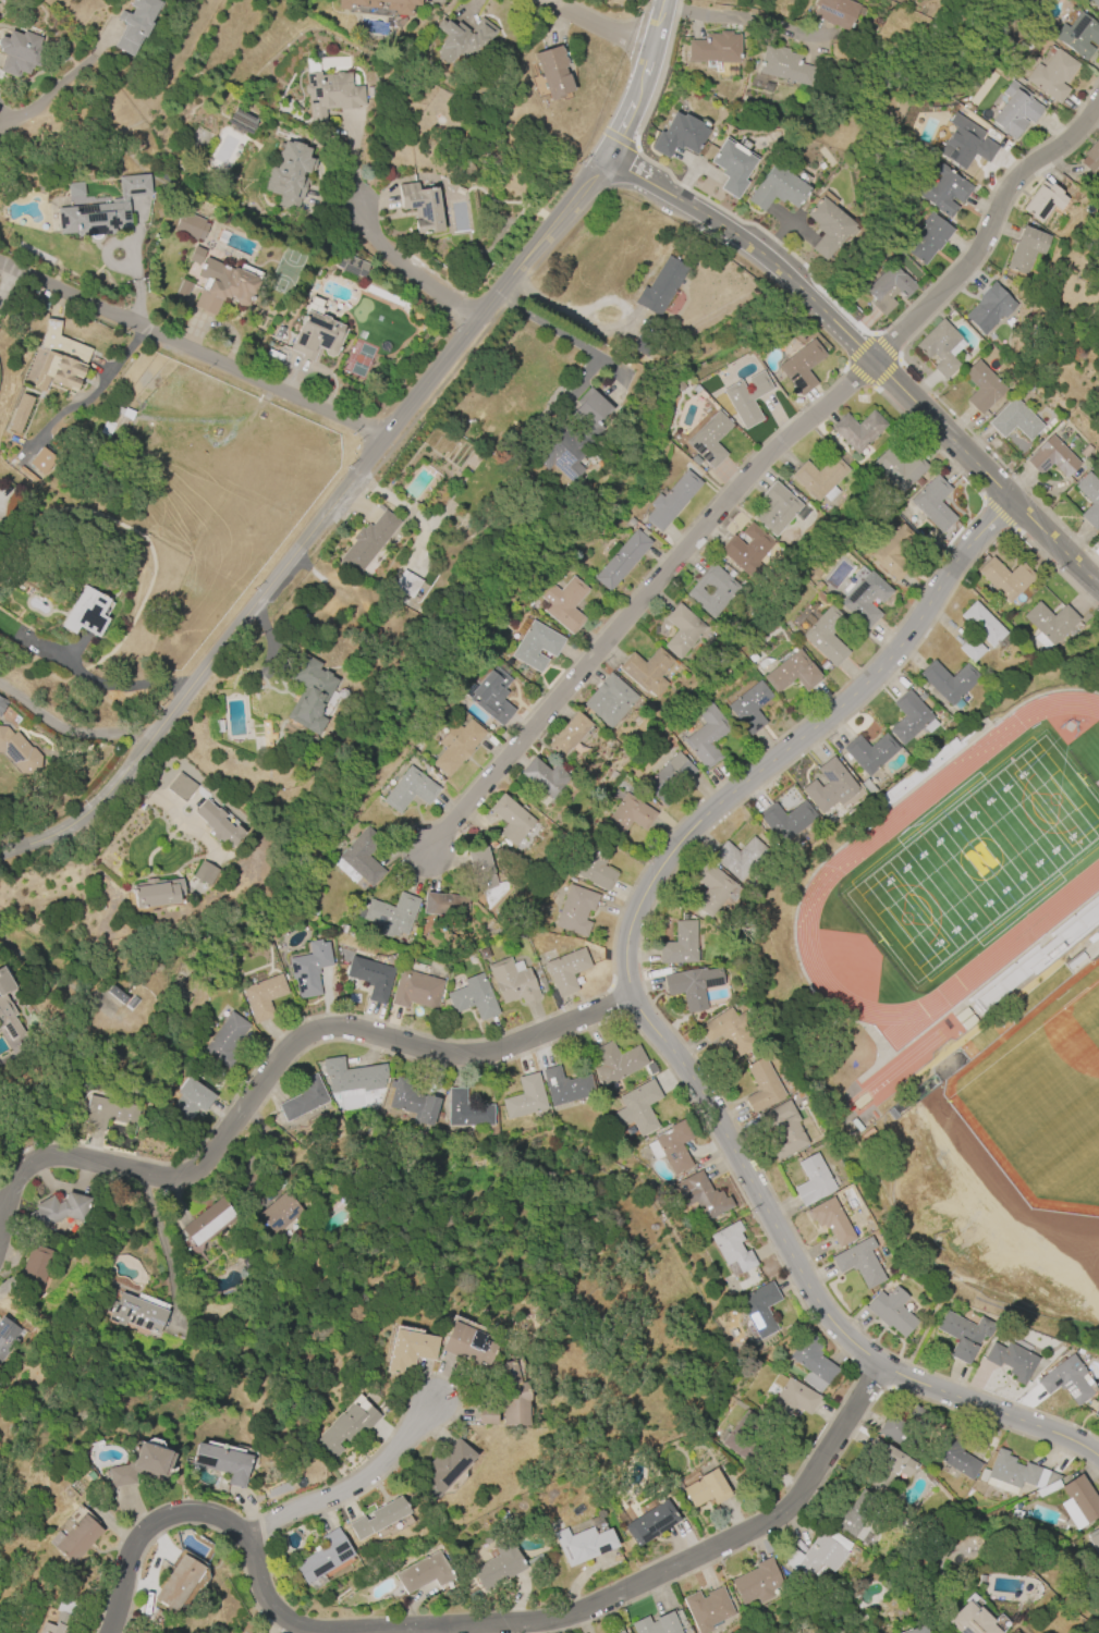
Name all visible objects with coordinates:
building: (1091, 2)
building: (398, 8)
building: (833, 11)
building: (1098, 16)
road: (744, 20)
road: (602, 23)
building: (135, 24)
building: (1079, 35)
building: (463, 38)
building: (715, 48)
building: (20, 51)
building: (784, 66)
road: (80, 67)
building: (552, 71)
road: (658, 72)
building: (1052, 75)
building: (369, 90)
building: (330, 94)
building: (1015, 110)
road: (20, 112)
building: (243, 119)
building: (679, 135)
building: (965, 144)
building: (1091, 156)
building: (732, 165)
building: (289, 174)
building: (777, 188)
building: (943, 191)
building: (1043, 200)
building: (422, 206)
building: (102, 210)
building: (191, 225)
building: (828, 228)
building: (928, 237)
road: (990, 237)
building: (1026, 249)
road: (106, 254)
road: (134, 260)
building: (351, 266)
road: (408, 268)
road: (8, 279)
building: (223, 285)
building: (660, 286)
building: (888, 288)
building: (182, 292)
building: (989, 308)
road: (573, 315)
building: (317, 336)
road: (571, 341)
road: (190, 347)
building: (939, 347)
road: (867, 354)
building: (801, 368)
building: (59, 371)
road: (583, 372)
building: (982, 386)
road: (93, 395)
building: (746, 398)
building: (20, 414)
building: (1014, 420)
building: (857, 430)
building: (573, 435)
building: (709, 439)
road: (367, 455)
building: (1051, 457)
building: (41, 459)
building: (900, 469)
building: (819, 477)
building: (1089, 498)
building: (672, 500)
building: (932, 503)
building: (776, 508)
building: (368, 541)
building: (747, 549)
building: (892, 552)
building: (623, 560)
building: (1005, 578)
building: (406, 585)
building: (712, 590)
road: (645, 593)
building: (865, 599)
building: (564, 604)
building: (85, 613)
building: (1050, 622)
building: (982, 624)
building: (683, 630)
building: (826, 636)
building: (536, 646)
building: (970, 649)
building: (647, 670)
building: (791, 673)
building: (948, 680)
road: (114, 685)
building: (307, 695)
building: (492, 695)
building: (609, 701)
building: (2, 704)
building: (748, 708)
building: (908, 717)
road: (68, 729)
building: (266, 734)
building: (569, 734)
building: (705, 735)
road: (799, 742)
building: (456, 746)
building: (19, 752)
building: (868, 752)
building: (544, 776)
building: (668, 777)
building: (180, 786)
building: (829, 786)
building: (866, 786)
building: (410, 789)
road: (163, 806)
building: (626, 815)
building: (511, 819)
building: (784, 820)
building: (217, 822)
building: (362, 856)
building: (738, 857)
park: (980, 863)
building: (596, 865)
track: (831, 871)
building: (205, 873)
building: (485, 875)
building: (713, 891)
building: (156, 893)
building: (445, 905)
building: (575, 910)
building: (392, 914)
building: (680, 945)
building: (483, 953)
building: (308, 969)
building: (565, 971)
building: (370, 977)
building: (512, 981)
building: (692, 985)
building: (415, 990)
building: (117, 994)
building: (262, 996)
building: (473, 998)
building: (7, 1007)
building: (966, 1017)
building: (726, 1031)
building: (225, 1039)
road: (278, 1060)
building: (615, 1063)
park: (906, 1063)
building: (352, 1076)
building: (761, 1085)
building: (565, 1086)
building: (525, 1097)
building: (304, 1098)
building: (413, 1100)
building: (187, 1105)
park: (1034, 1106)
building: (638, 1108)
building: (466, 1110)
building: (106, 1113)
building: (782, 1129)
building: (674, 1146)
building: (813, 1180)
building: (701, 1195)
building: (58, 1211)
building: (280, 1213)
building: (208, 1221)
building: (831, 1221)
road: (164, 1238)
building: (732, 1249)
building: (858, 1263)
building: (33, 1269)
road: (811, 1287)
building: (759, 1309)
building: (891, 1311)
building: (136, 1315)
building: (7, 1334)
building: (963, 1335)
building: (468, 1346)
building: (407, 1351)
building: (813, 1359)
building: (1012, 1360)
building: (1065, 1379)
building: (511, 1395)
building: (793, 1399)
building: (1097, 1411)
building: (488, 1415)
building: (346, 1427)
building: (894, 1434)
building: (743, 1435)
building: (953, 1457)
building: (222, 1461)
building: (884, 1463)
building: (142, 1464)
building: (441, 1470)
building: (1017, 1472)
building: (707, 1488)
road: (352, 1490)
building: (1078, 1501)
building: (377, 1518)
building: (845, 1519)
building: (650, 1523)
building: (75, 1536)
building: (1094, 1539)
building: (583, 1544)
building: (817, 1556)
building: (325, 1557)
building: (498, 1567)
building: (423, 1573)
building: (178, 1583)
building: (757, 1583)
building: (707, 1608)
building: (59, 1616)
building: (972, 1620)
building: (660, 1623)
road: (473, 1629)
building: (919, 1630)
road: (418, 1631)
building: (1013, 1631)
building: (620, 1632)

